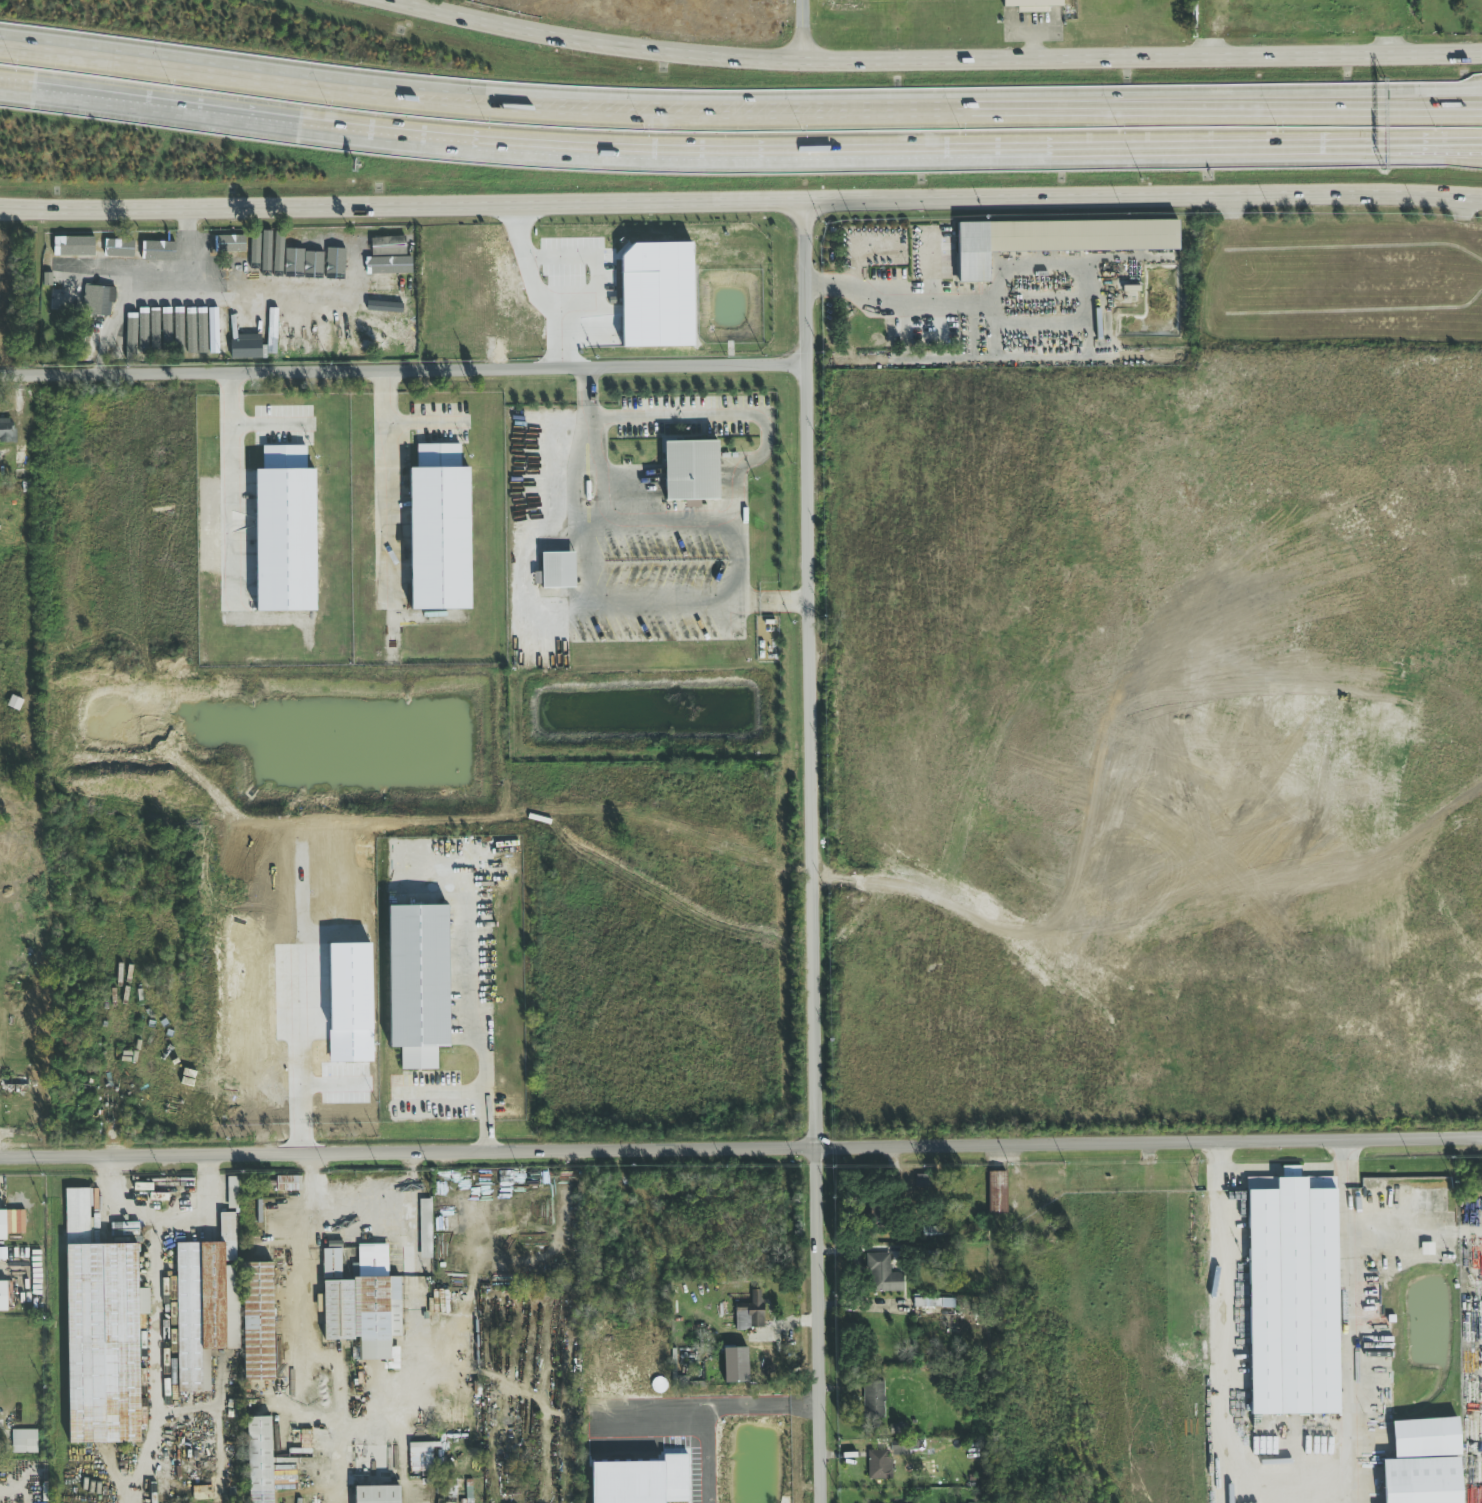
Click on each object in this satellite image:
building: (1031, 3)
road: (1034, 23)
road: (801, 29)
road: (1033, 39)
road: (924, 56)
road: (739, 117)
road: (1428, 142)
road: (685, 144)
road: (1428, 149)
road: (741, 204)
building: (1052, 240)
building: (228, 245)
building: (74, 249)
building: (119, 249)
road: (188, 250)
building: (318, 251)
building: (334, 251)
building: (306, 252)
building: (271, 253)
building: (290, 253)
building: (355, 253)
building: (391, 259)
building: (65, 263)
road: (537, 289)
road: (257, 296)
building: (103, 300)
building: (333, 300)
road: (952, 303)
road: (122, 310)
building: (329, 310)
building: (380, 311)
building: (171, 319)
building: (201, 331)
building: (292, 333)
building: (173, 334)
building: (307, 336)
building: (324, 336)
building: (373, 337)
building: (119, 346)
building: (247, 348)
road: (402, 370)
road: (423, 420)
building: (7, 430)
building: (19, 460)
building: (690, 470)
road: (601, 475)
road: (235, 479)
road: (629, 480)
road: (387, 487)
road: (724, 518)
building: (439, 529)
building: (285, 531)
road: (741, 549)
building: (557, 570)
road: (777, 596)
road: (745, 601)
road: (777, 606)
building: (878, 641)
road: (815, 852)
building: (418, 984)
road: (485, 1029)
road: (299, 1063)
road: (331, 1083)
building: (13, 1084)
road: (447, 1091)
building: (19, 1116)
road: (741, 1147)
road: (1283, 1170)
building: (287, 1183)
building: (924, 1185)
building: (231, 1192)
building: (993, 1193)
building: (1409, 1203)
road: (202, 1207)
building: (17, 1221)
building: (2, 1225)
building: (425, 1228)
road: (292, 1266)
building: (882, 1274)
road: (152, 1287)
building: (3, 1296)
building: (361, 1299)
building: (1290, 1299)
building: (933, 1303)
building: (205, 1304)
building: (754, 1311)
road: (1348, 1321)
building: (259, 1322)
road: (1224, 1322)
building: (1380, 1324)
building: (102, 1332)
building: (873, 1400)
building: (897, 1429)
building: (23, 1441)
building: (900, 1448)
building: (421, 1458)
building: (259, 1460)
building: (1421, 1463)
building: (879, 1464)
building: (19, 1474)
building: (378, 1495)

